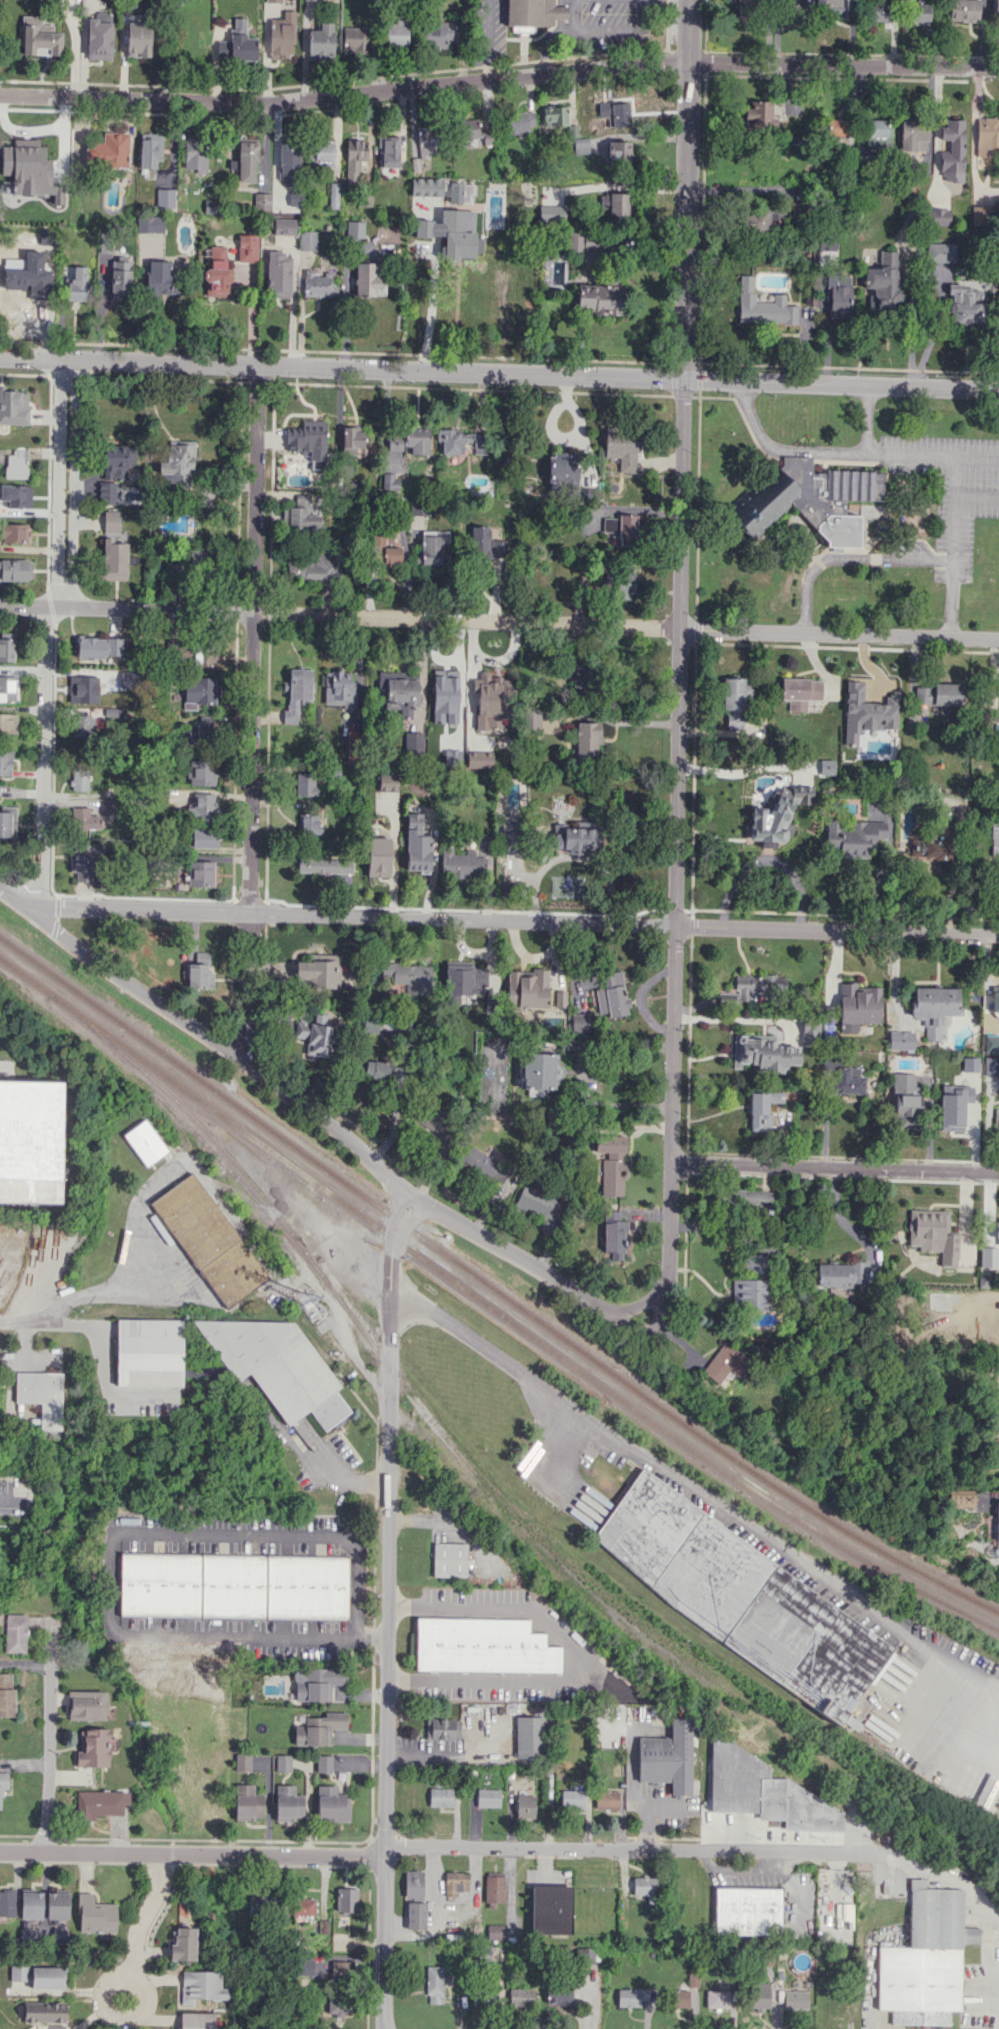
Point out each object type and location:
building: (320, 0)
building: (801, 6)
building: (833, 8)
building: (744, 9)
building: (996, 9)
building: (964, 10)
building: (881, 11)
building: (530, 13)
building: (920, 13)
road: (619, 25)
road: (554, 32)
building: (436, 34)
building: (396, 35)
building: (281, 36)
building: (39, 37)
building: (98, 39)
building: (138, 39)
building: (354, 39)
road: (489, 39)
building: (241, 41)
building: (321, 42)
road: (499, 77)
building: (614, 112)
building: (760, 114)
building: (555, 116)
building: (520, 122)
building: (838, 127)
building: (876, 127)
building: (469, 128)
building: (913, 135)
building: (987, 136)
building: (426, 141)
building: (877, 142)
building: (581, 145)
building: (952, 150)
building: (108, 151)
building: (149, 151)
building: (388, 151)
building: (618, 152)
building: (195, 153)
building: (320, 153)
building: (354, 158)
building: (246, 160)
building: (288, 163)
building: (426, 187)
road: (688, 190)
building: (455, 192)
building: (333, 195)
building: (261, 201)
building: (613, 203)
building: (551, 213)
building: (937, 216)
building: (760, 220)
building: (150, 224)
building: (284, 226)
building: (354, 229)
building: (450, 234)
building: (48, 237)
building: (307, 240)
building: (247, 247)
building: (940, 252)
building: (217, 273)
building: (278, 275)
building: (39, 278)
building: (120, 278)
building: (368, 278)
building: (158, 279)
building: (884, 281)
building: (75, 284)
building: (318, 285)
building: (598, 299)
building: (839, 300)
building: (966, 301)
road: (430, 305)
building: (762, 305)
road: (499, 373)
building: (13, 406)
building: (452, 439)
building: (308, 441)
road: (813, 448)
building: (622, 449)
road: (933, 454)
building: (117, 461)
building: (15, 464)
building: (176, 464)
building: (561, 470)
road: (72, 480)
building: (389, 480)
road: (58, 482)
building: (106, 492)
building: (16, 495)
road: (976, 495)
building: (818, 499)
building: (300, 515)
building: (110, 521)
building: (622, 527)
building: (12, 532)
building: (479, 544)
road: (952, 544)
building: (434, 547)
building: (382, 550)
road: (848, 558)
building: (113, 560)
building: (315, 566)
building: (15, 569)
building: (624, 581)
road: (499, 621)
building: (6, 646)
building: (98, 646)
building: (7, 688)
building: (83, 689)
building: (340, 689)
building: (199, 691)
building: (296, 691)
building: (399, 691)
building: (800, 692)
building: (938, 694)
building: (444, 699)
building: (735, 701)
building: (493, 702)
building: (866, 712)
road: (252, 713)
building: (531, 720)
building: (8, 723)
building: (81, 725)
building: (200, 731)
building: (586, 740)
building: (352, 746)
road: (46, 758)
building: (478, 759)
building: (5, 762)
building: (202, 772)
building: (79, 779)
building: (387, 782)
building: (305, 784)
building: (202, 807)
building: (775, 815)
building: (83, 818)
building: (7, 821)
building: (308, 823)
building: (510, 834)
building: (853, 836)
building: (202, 838)
building: (578, 838)
road: (679, 838)
building: (995, 839)
building: (416, 844)
building: (929, 845)
building: (378, 856)
building: (83, 859)
building: (461, 863)
building: (324, 865)
building: (199, 873)
road: (517, 921)
building: (318, 971)
building: (199, 972)
building: (408, 976)
building: (464, 978)
building: (527, 988)
building: (753, 988)
building: (611, 994)
building: (992, 998)
building: (857, 1006)
building: (934, 1007)
road: (726, 1017)
building: (579, 1022)
building: (371, 1024)
building: (806, 1032)
building: (314, 1034)
building: (900, 1039)
road: (622, 1045)
building: (762, 1052)
building: (970, 1064)
building: (381, 1070)
building: (540, 1070)
building: (847, 1080)
railway: (209, 1085)
building: (904, 1099)
railway: (203, 1103)
building: (953, 1106)
building: (761, 1108)
road: (309, 1111)
building: (437, 1122)
building: (996, 1123)
building: (30, 1141)
building: (146, 1143)
building: (611, 1162)
building: (483, 1164)
road: (835, 1164)
building: (753, 1196)
building: (536, 1202)
road: (836, 1214)
building: (996, 1233)
building: (932, 1234)
building: (614, 1235)
building: (210, 1239)
building: (986, 1252)
building: (755, 1263)
building: (840, 1274)
road: (98, 1290)
building: (749, 1294)
road: (647, 1309)
road: (25, 1320)
building: (150, 1351)
building: (725, 1362)
building: (279, 1368)
building: (41, 1395)
railway: (440, 1427)
railway: (698, 1436)
railway: (694, 1450)
road: (539, 1469)
road: (338, 1470)
building: (960, 1498)
road: (3, 1506)
road: (717, 1508)
road: (422, 1517)
building: (997, 1521)
road: (108, 1548)
building: (448, 1558)
building: (234, 1585)
building: (742, 1596)
road: (388, 1610)
building: (16, 1633)
building: (483, 1645)
road: (574, 1655)
building: (316, 1682)
building: (6, 1694)
building: (87, 1705)
building: (318, 1728)
building: (441, 1728)
building: (528, 1737)
road: (50, 1739)
building: (95, 1747)
building: (668, 1758)
building: (242, 1762)
building: (283, 1762)
building: (323, 1763)
building: (3, 1782)
building: (765, 1791)
building: (439, 1796)
building: (487, 1797)
building: (571, 1798)
building: (606, 1799)
building: (247, 1802)
building: (100, 1803)
building: (287, 1803)
building: (331, 1804)
building: (524, 1806)
road: (646, 1810)
road: (422, 1846)
road: (929, 1868)
building: (412, 1883)
building: (645, 1888)
building: (493, 1889)
building: (346, 1899)
building: (7, 1902)
building: (57, 1904)
building: (31, 1905)
building: (261, 1905)
building: (303, 1906)
building: (551, 1908)
building: (748, 1911)
road: (145, 1912)
building: (95, 1915)
building: (415, 1915)
building: (495, 1931)
building: (27, 1934)
building: (183, 1944)
building: (492, 1954)
building: (585, 1955)
building: (926, 1959)
building: (19, 1972)
building: (46, 1977)
building: (434, 1984)
building: (201, 1985)
building: (556, 1995)
building: (759, 1995)
building: (520, 1996)
building: (630, 1996)
building: (486, 1998)
building: (677, 1998)
building: (713, 1999)
building: (795, 1999)
building: (337, 2003)
building: (44, 2011)
road: (128, 2020)
building: (195, 2020)
building: (55, 2026)

